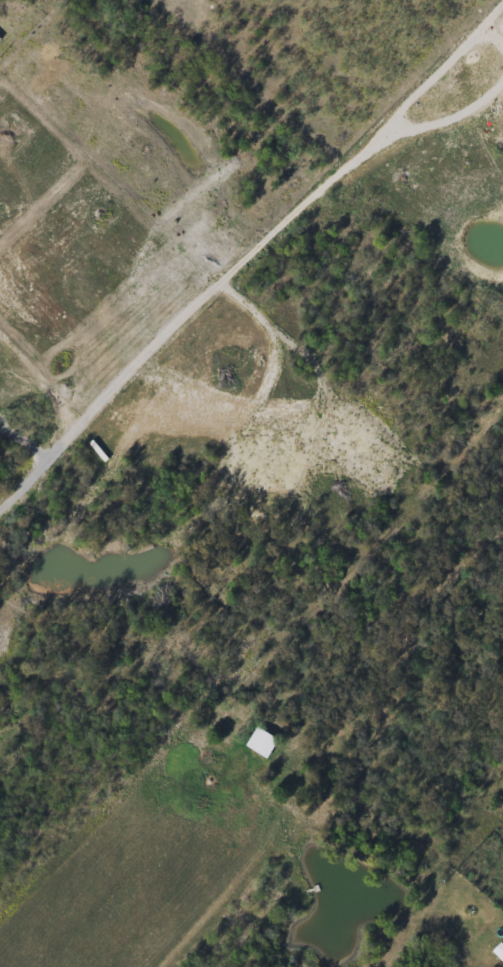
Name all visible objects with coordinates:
road: (241, 258)
road: (25, 433)
building: (262, 744)
road: (230, 891)

